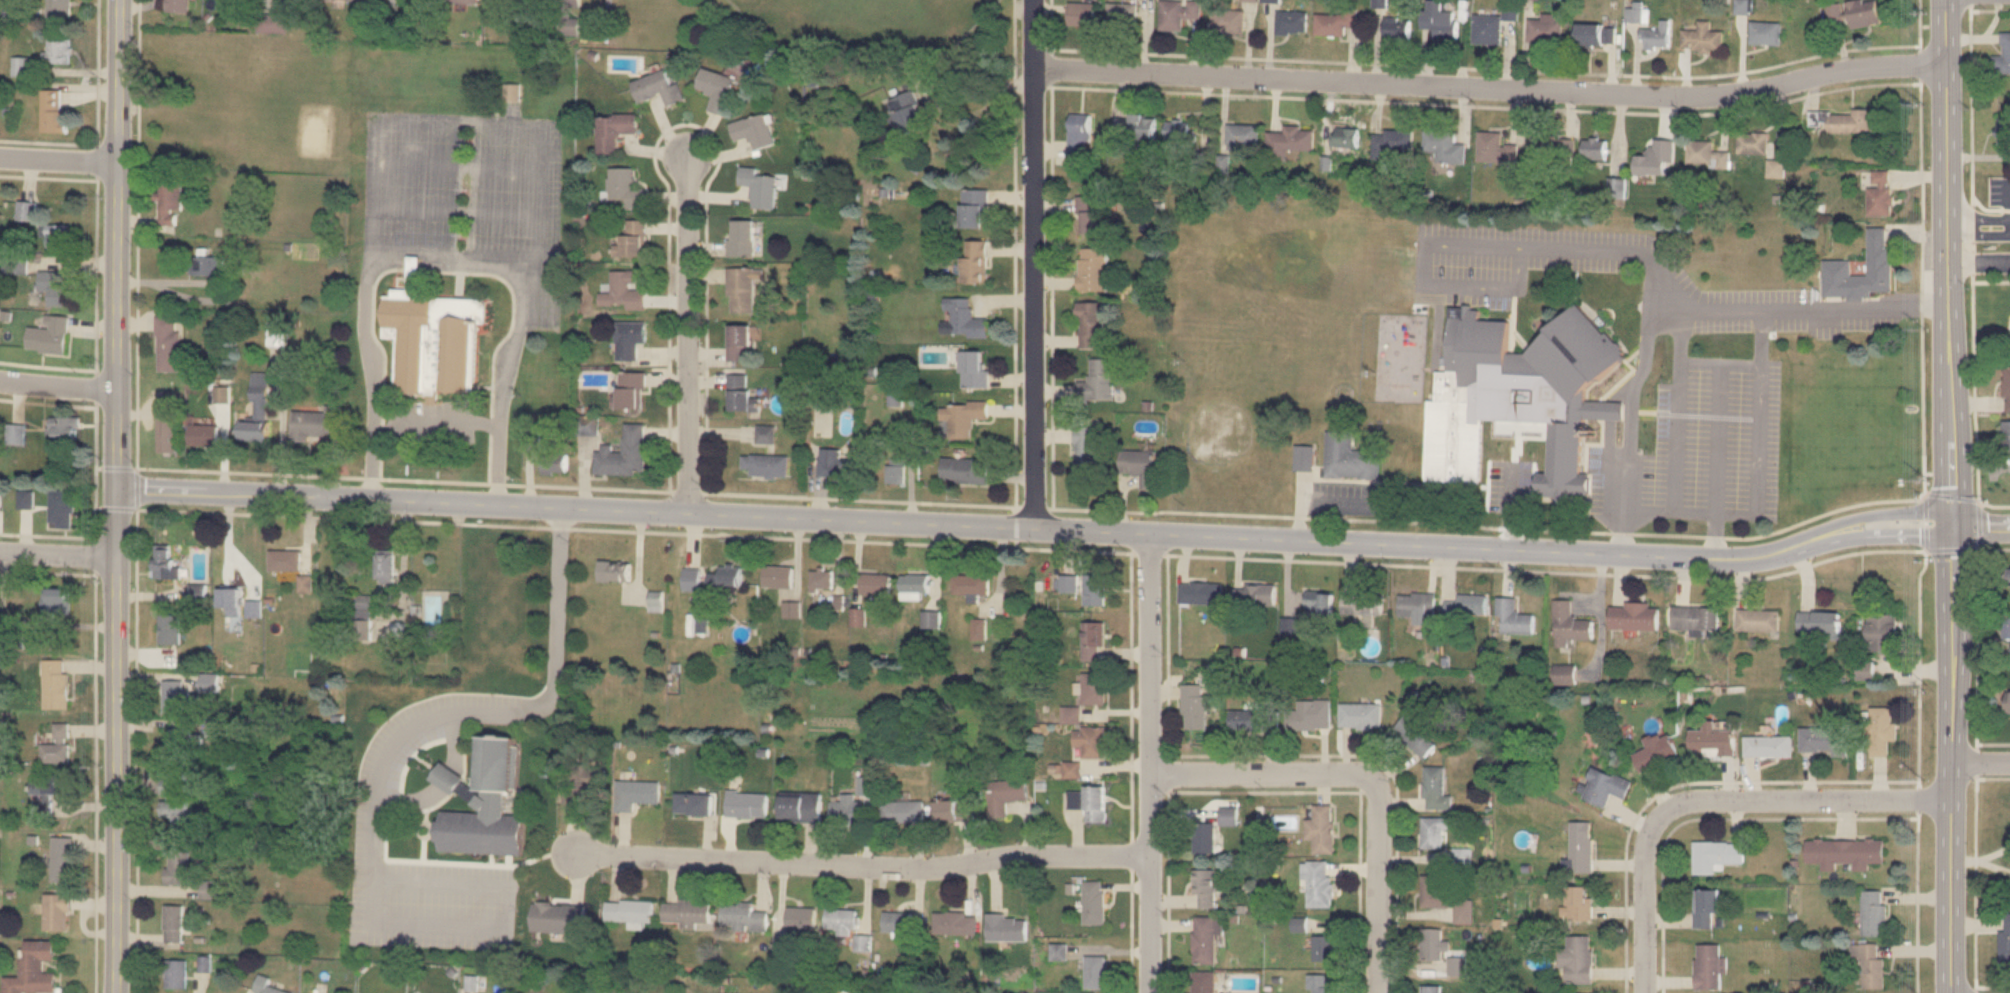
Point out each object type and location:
building: (365, 0)
building: (454, 1)
building: (1270, 1)
building: (513, 2)
building: (178, 6)
building: (60, 8)
building: (1511, 12)
building: (1855, 13)
building: (1082, 14)
building: (1178, 14)
building: (1635, 14)
building: (1122, 15)
building: (566, 17)
building: (1438, 20)
park: (861, 21)
building: (1228, 22)
building: (1291, 23)
building: (1334, 23)
building: (1397, 29)
building: (1545, 29)
building: (1488, 30)
building: (1765, 32)
building: (1597, 34)
building: (1657, 36)
building: (1702, 38)
building: (58, 50)
building: (2003, 56)
road: (983, 78)
road: (1491, 87)
building: (659, 88)
building: (718, 89)
building: (54, 111)
building: (907, 114)
building: (1843, 121)
road: (464, 122)
building: (1134, 127)
building: (615, 130)
building: (755, 131)
building: (2003, 132)
building: (1181, 133)
building: (1079, 135)
building: (1243, 136)
building: (1345, 137)
building: (1291, 140)
building: (1391, 141)
building: (1754, 143)
building: (1445, 146)
building: (1495, 149)
building: (1553, 149)
building: (1595, 149)
building: (1706, 155)
road: (60, 160)
building: (1776, 167)
building: (626, 187)
building: (760, 187)
building: (1669, 189)
building: (1881, 193)
building: (171, 204)
building: (975, 208)
building: (26, 210)
building: (1092, 215)
road: (1978, 218)
road: (2009, 227)
building: (59, 235)
road: (1978, 235)
building: (743, 238)
building: (634, 240)
road: (486, 258)
road: (1978, 258)
road: (1947, 260)
building: (976, 262)
road: (1035, 264)
building: (211, 265)
building: (1839, 266)
building: (1092, 269)
road: (206, 281)
building: (56, 286)
building: (743, 288)
building: (623, 292)
road: (1686, 299)
building: (962, 319)
building: (1090, 324)
road: (688, 334)
building: (50, 335)
building: (629, 339)
building: (435, 340)
building: (742, 342)
building: (168, 343)
road: (1721, 360)
building: (974, 369)
building: (1098, 380)
road: (57, 386)
building: (2007, 389)
building: (632, 391)
building: (741, 392)
building: (1456, 403)
road: (1678, 405)
building: (258, 411)
building: (962, 417)
road: (1631, 418)
road: (435, 420)
building: (318, 423)
building: (64, 427)
building: (168, 431)
building: (16, 434)
building: (766, 434)
building: (204, 435)
road: (1721, 436)
building: (2006, 438)
road: (1758, 450)
building: (1087, 452)
building: (625, 453)
building: (555, 456)
building: (1304, 458)
building: (1349, 458)
road: (370, 463)
building: (767, 465)
building: (836, 465)
building: (1140, 466)
road: (116, 467)
building: (965, 470)
building: (895, 471)
road: (117, 496)
building: (27, 500)
road: (116, 507)
building: (62, 508)
road: (1698, 510)
traffic signals: (1949, 522)
road: (1979, 522)
road: (1035, 529)
road: (1456, 529)
road: (58, 554)
building: (285, 559)
building: (166, 562)
building: (385, 566)
building: (615, 570)
building: (731, 574)
building: (778, 575)
building: (2007, 576)
building: (823, 577)
building: (692, 578)
building: (1067, 582)
building: (876, 583)
building: (972, 583)
building: (915, 584)
building: (1094, 588)
building: (198, 590)
building: (1201, 592)
building: (1254, 594)
building: (230, 598)
building: (59, 599)
building: (655, 601)
building: (1319, 601)
building: (1362, 602)
building: (1417, 605)
building: (1467, 605)
building: (253, 608)
building: (363, 615)
building: (858, 615)
building: (1635, 615)
building: (1514, 616)
building: (1697, 616)
building: (931, 618)
building: (1759, 619)
building: (1819, 621)
building: (1571, 623)
building: (1290, 624)
building: (2006, 625)
building: (171, 628)
building: (978, 628)
building: (1883, 632)
building: (1093, 640)
building: (1564, 674)
building: (56, 683)
building: (1093, 688)
building: (175, 696)
building: (2008, 703)
building: (1193, 706)
building: (1070, 714)
building: (1309, 714)
building: (1359, 715)
building: (1254, 719)
building: (214, 728)
road: (94, 729)
building: (1880, 729)
road: (135, 730)
building: (1417, 732)
building: (1714, 739)
building: (1825, 740)
building: (1090, 741)
building: (181, 742)
building: (57, 745)
building: (1770, 745)
building: (1658, 751)
road: (410, 755)
road: (1950, 757)
road: (1980, 761)
road: (1150, 763)
road: (433, 769)
building: (1070, 769)
building: (448, 777)
road: (1367, 779)
road: (441, 783)
building: (576, 783)
building: (54, 785)
building: (1605, 786)
building: (170, 787)
building: (1435, 788)
road: (449, 791)
building: (635, 793)
building: (1004, 795)
road: (375, 799)
building: (1089, 802)
road: (1716, 802)
building: (486, 804)
building: (693, 804)
building: (746, 804)
building: (800, 807)
building: (845, 808)
building: (953, 810)
building: (176, 811)
building: (902, 811)
road: (424, 816)
building: (1227, 816)
building: (1320, 829)
building: (1434, 832)
road: (427, 835)
building: (1203, 837)
building: (1582, 846)
road: (422, 849)
building: (1847, 853)
road: (1994, 853)
building: (1718, 856)
building: (62, 859)
road: (1964, 861)
road: (474, 863)
road: (862, 865)
building: (178, 867)
road: (1994, 868)
building: (1317, 882)
building: (1204, 888)
building: (1436, 891)
building: (1093, 902)
building: (1580, 903)
building: (1708, 908)
building: (628, 910)
building: (56, 911)
building: (1463, 911)
building: (1876, 912)
building: (686, 914)
building: (557, 917)
building: (742, 917)
building: (800, 918)
building: (841, 920)
building: (899, 921)
building: (173, 923)
building: (955, 923)
building: (1005, 927)
building: (1205, 938)
building: (2006, 942)
building: (1433, 944)
building: (1323, 948)
building: (1057, 951)
building: (1579, 959)
building: (1872, 964)
building: (1710, 966)
building: (33, 969)
building: (1094, 972)
building: (176, 974)
building: (1203, 982)
building: (1319, 984)
building: (266, 985)
building: (1431, 988)

